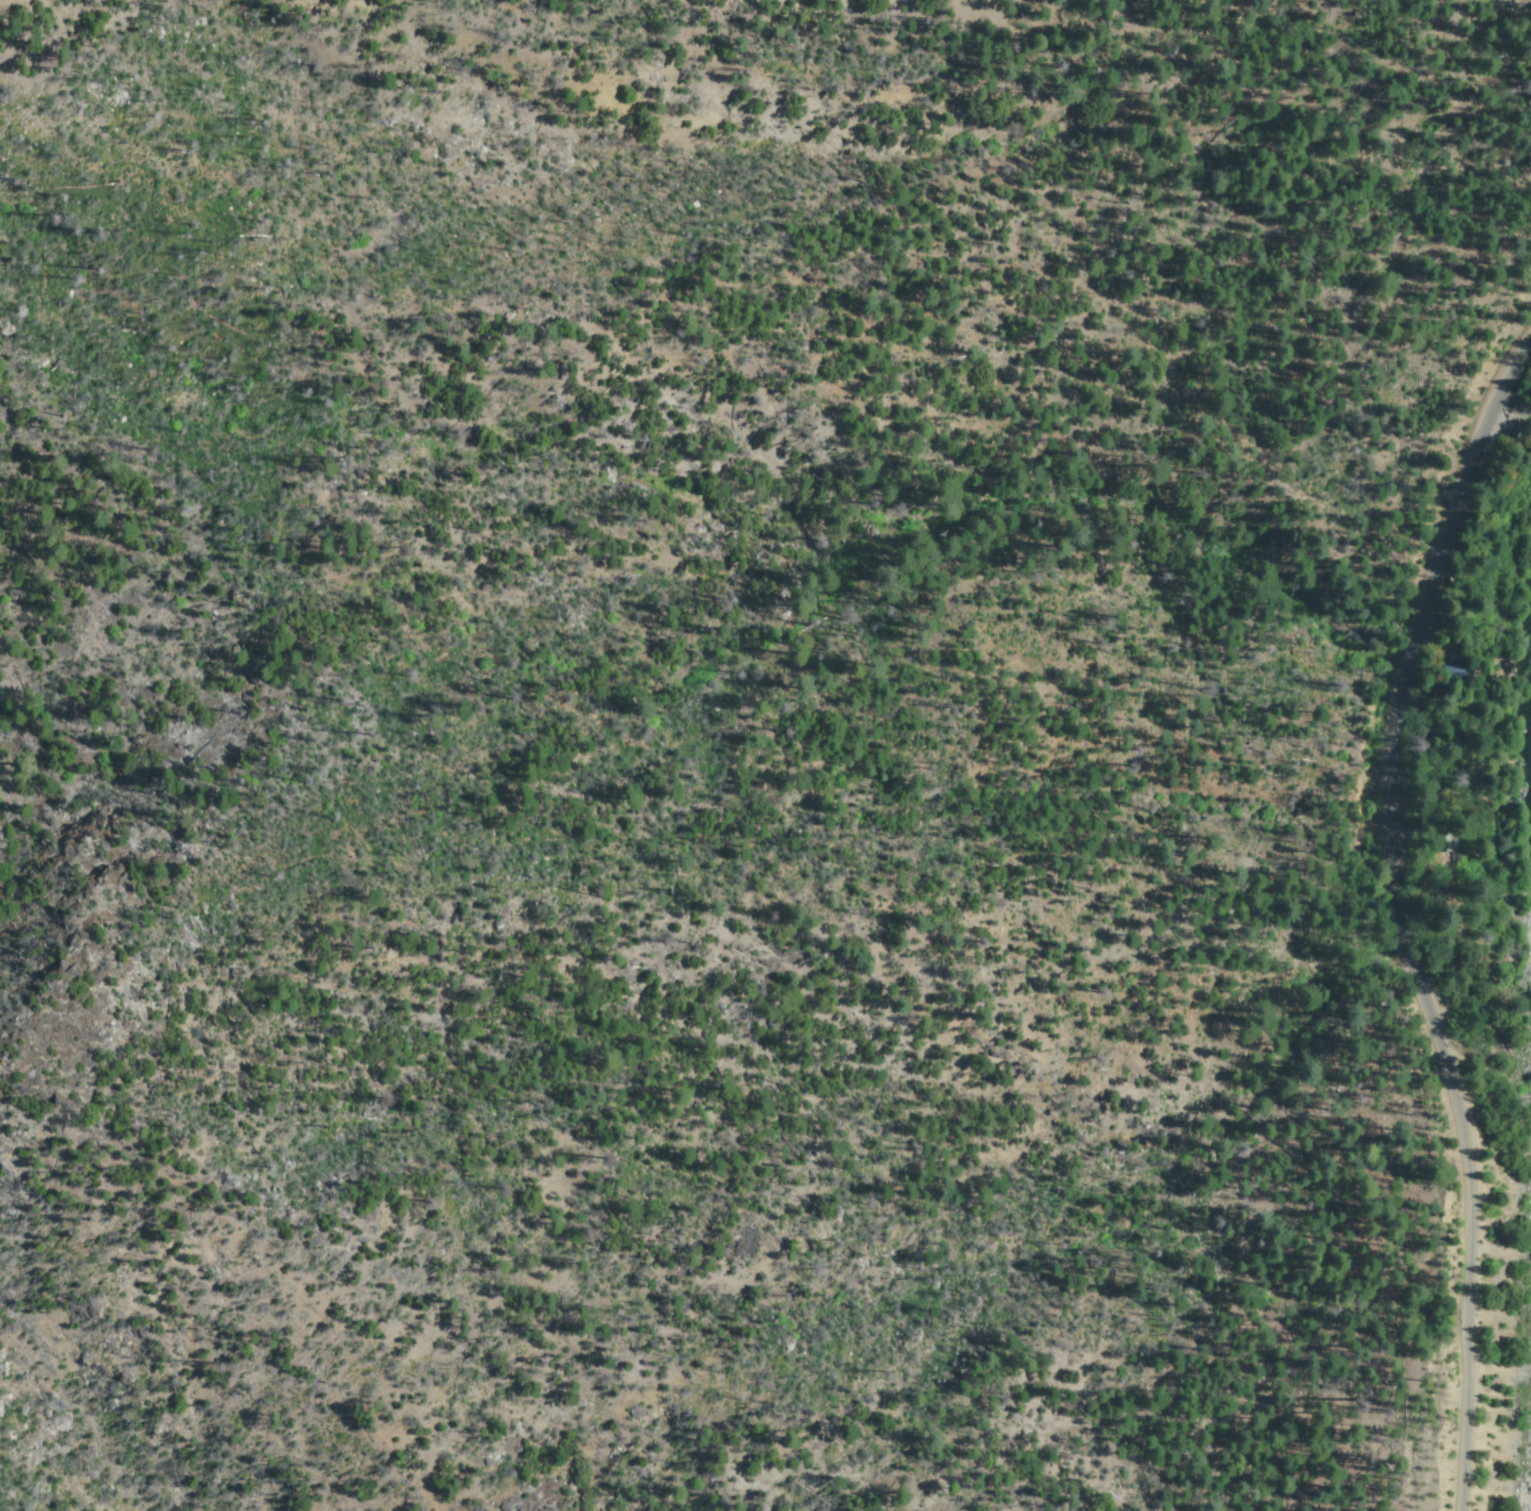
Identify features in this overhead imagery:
building: (1446, 842)
road: (1397, 913)

